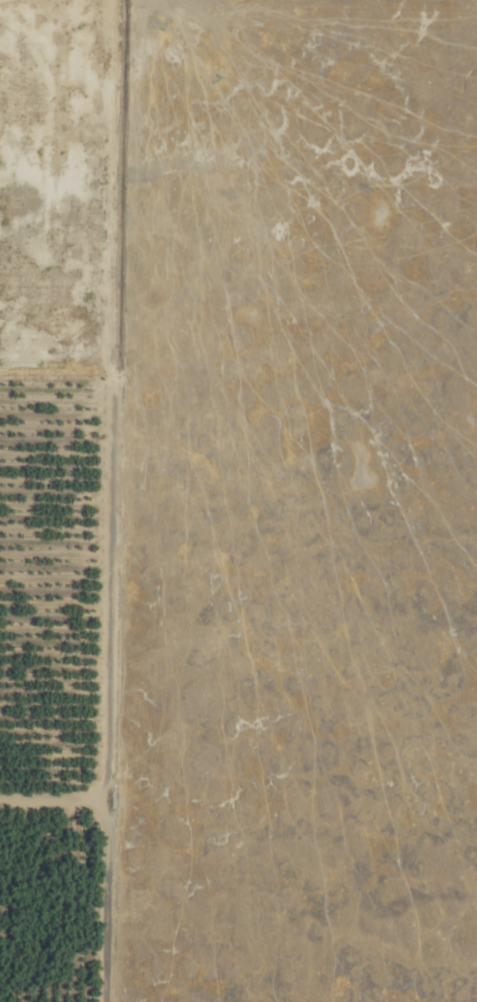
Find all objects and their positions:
crop: (69, 679)
road: (107, 846)

